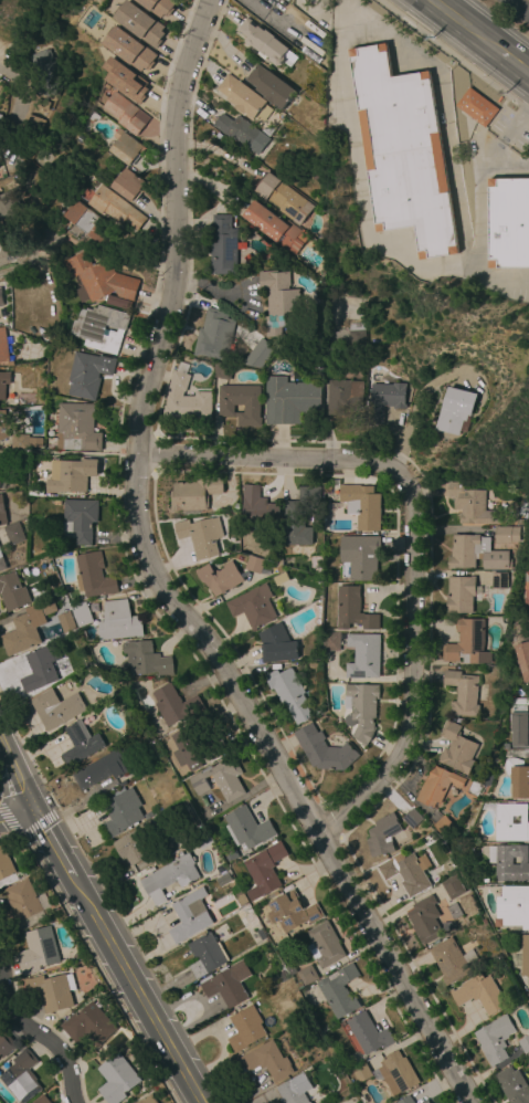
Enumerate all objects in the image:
building: (159, 6)
road: (518, 8)
road: (309, 12)
building: (141, 24)
road: (464, 27)
road: (339, 34)
building: (263, 41)
building: (130, 50)
road: (514, 63)
building: (43, 65)
building: (125, 80)
building: (271, 86)
building: (244, 97)
road: (13, 105)
building: (476, 107)
building: (125, 112)
building: (0, 116)
building: (32, 122)
road: (516, 122)
parking lot: (510, 127)
building: (241, 132)
building: (127, 147)
building: (403, 151)
building: (316, 178)
building: (128, 185)
building: (283, 198)
building: (8, 203)
building: (115, 208)
building: (85, 221)
building: (508, 223)
building: (275, 228)
building: (0, 242)
building: (223, 246)
building: (102, 281)
building: (279, 298)
building: (1, 300)
building: (100, 327)
building: (214, 335)
building: (356, 338)
building: (3, 346)
building: (260, 351)
building: (222, 370)
building: (88, 374)
building: (6, 387)
building: (342, 395)
building: (186, 400)
building: (289, 400)
building: (383, 400)
building: (240, 403)
road: (413, 411)
building: (456, 411)
building: (3, 426)
building: (77, 428)
building: (24, 440)
building: (71, 474)
building: (2, 483)
building: (35, 492)
building: (194, 494)
building: (56, 502)
building: (362, 505)
building: (469, 505)
building: (257, 507)
building: (2, 513)
building: (299, 516)
building: (78, 519)
building: (518, 522)
building: (13, 533)
building: (201, 535)
building: (505, 535)
road: (406, 540)
building: (475, 554)
building: (360, 556)
building: (2, 563)
building: (254, 565)
building: (93, 576)
building: (220, 577)
building: (279, 578)
building: (498, 580)
road: (158, 588)
building: (527, 588)
building: (12, 591)
building: (459, 595)
building: (253, 606)
building: (352, 609)
building: (82, 614)
building: (118, 621)
building: (65, 622)
building: (25, 627)
building: (331, 641)
building: (466, 643)
building: (277, 644)
building: (363, 655)
building: (523, 658)
building: (146, 659)
building: (313, 664)
building: (40, 666)
building: (463, 692)
building: (288, 693)
building: (174, 704)
building: (54, 708)
building: (361, 710)
building: (520, 723)
building: (80, 743)
building: (507, 746)
building: (193, 748)
building: (456, 748)
building: (322, 749)
road: (6, 752)
building: (517, 754)
building: (102, 768)
building: (518, 777)
building: (489, 778)
building: (220, 779)
building: (436, 786)
road: (23, 788)
building: (473, 789)
traffic signals: (34, 809)
building: (121, 811)
road: (17, 817)
building: (412, 818)
road: (7, 822)
building: (157, 822)
building: (511, 822)
road: (39, 824)
building: (443, 826)
building: (247, 828)
road: (18, 836)
building: (384, 836)
road: (53, 843)
building: (131, 848)
building: (510, 862)
building: (4, 863)
building: (264, 870)
building: (405, 873)
building: (170, 874)
building: (454, 886)
building: (240, 899)
building: (23, 905)
building: (514, 906)
building: (454, 911)
building: (292, 912)
building: (189, 915)
building: (246, 916)
building: (424, 920)
building: (447, 926)
building: (261, 934)
building: (324, 945)
building: (38, 950)
building: (205, 955)
building: (522, 957)
building: (452, 960)
building: (284, 974)
building: (307, 975)
building: (228, 984)
building: (52, 990)
road: (135, 990)
building: (339, 991)
building: (479, 994)
building: (88, 1025)
building: (245, 1028)
building: (369, 1033)
road: (39, 1034)
building: (495, 1039)
building: (6, 1044)
building: (525, 1044)
building: (528, 1055)
building: (267, 1060)
building: (400, 1071)
building: (361, 1073)
building: (19, 1078)
building: (116, 1079)
building: (512, 1085)
building: (294, 1090)
building: (41, 1100)
building: (147, 1100)
building: (405, 1100)
building: (425, 1101)

